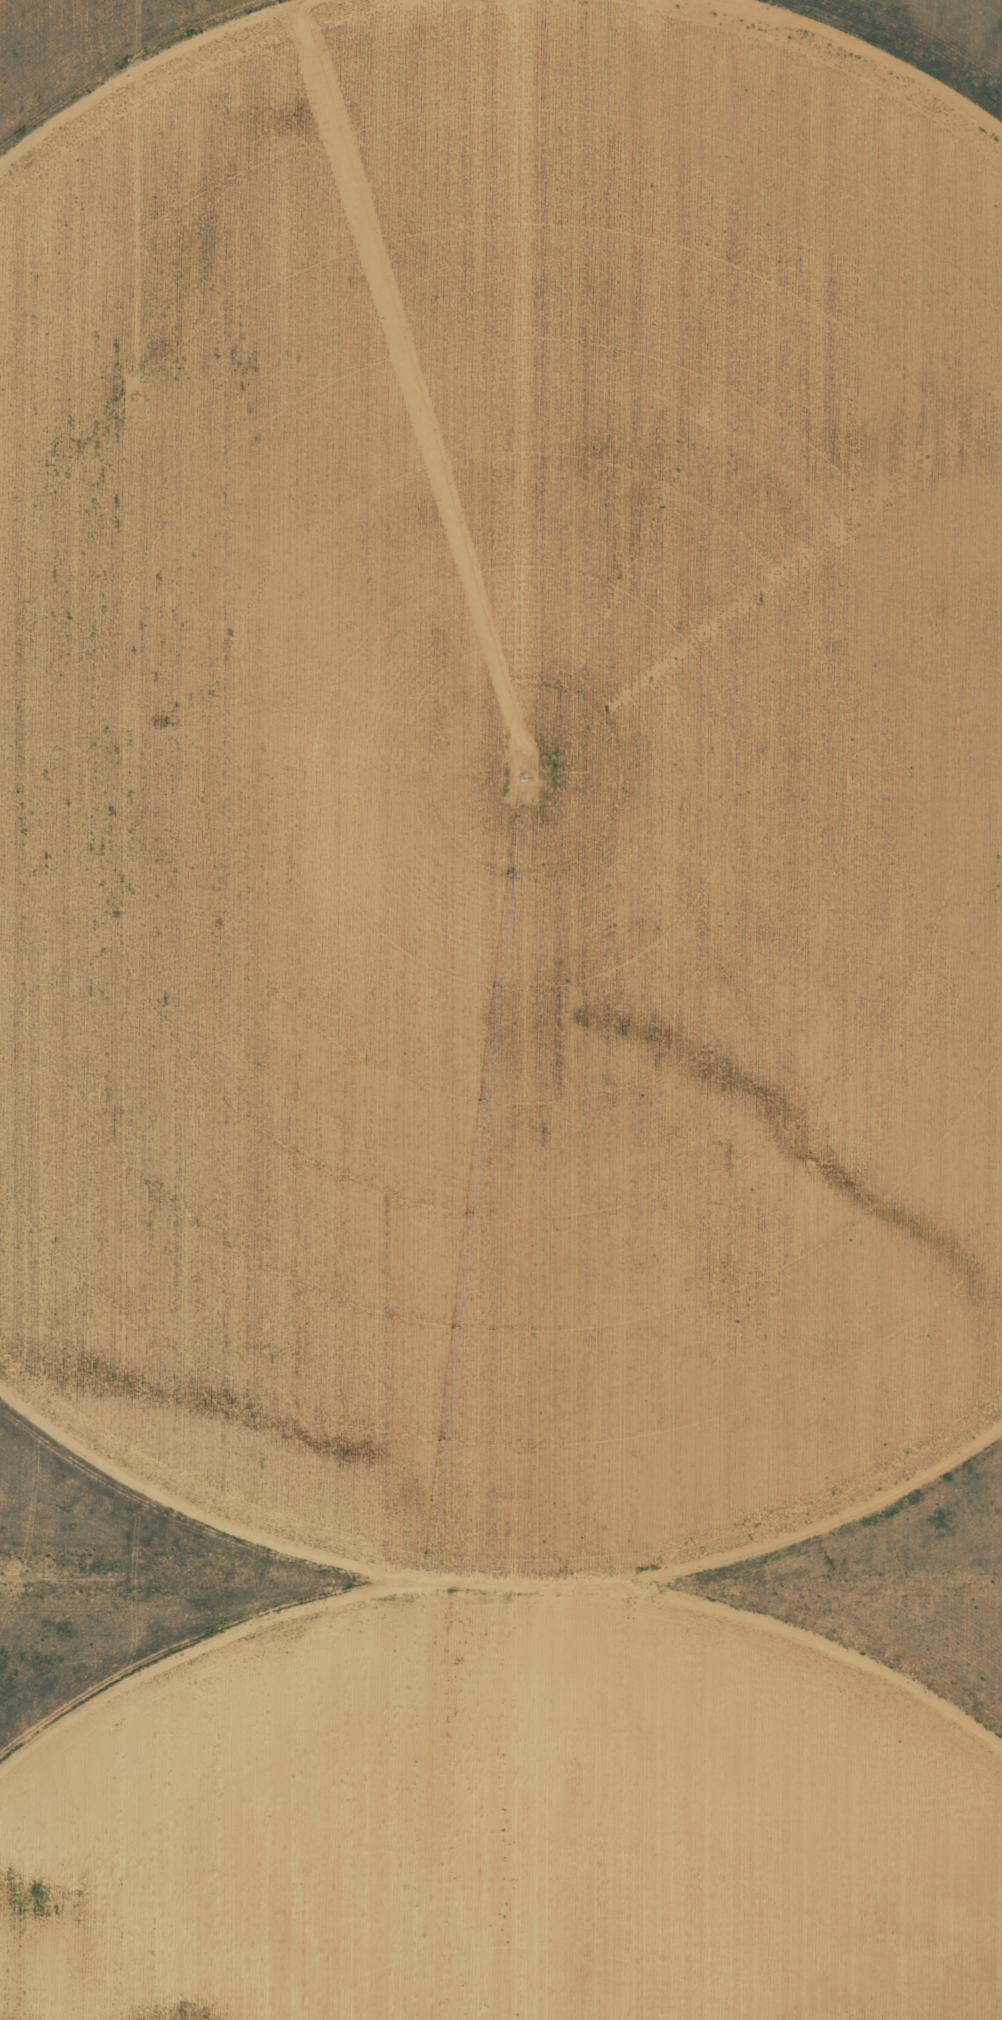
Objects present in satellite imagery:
road: (45, 1908)

